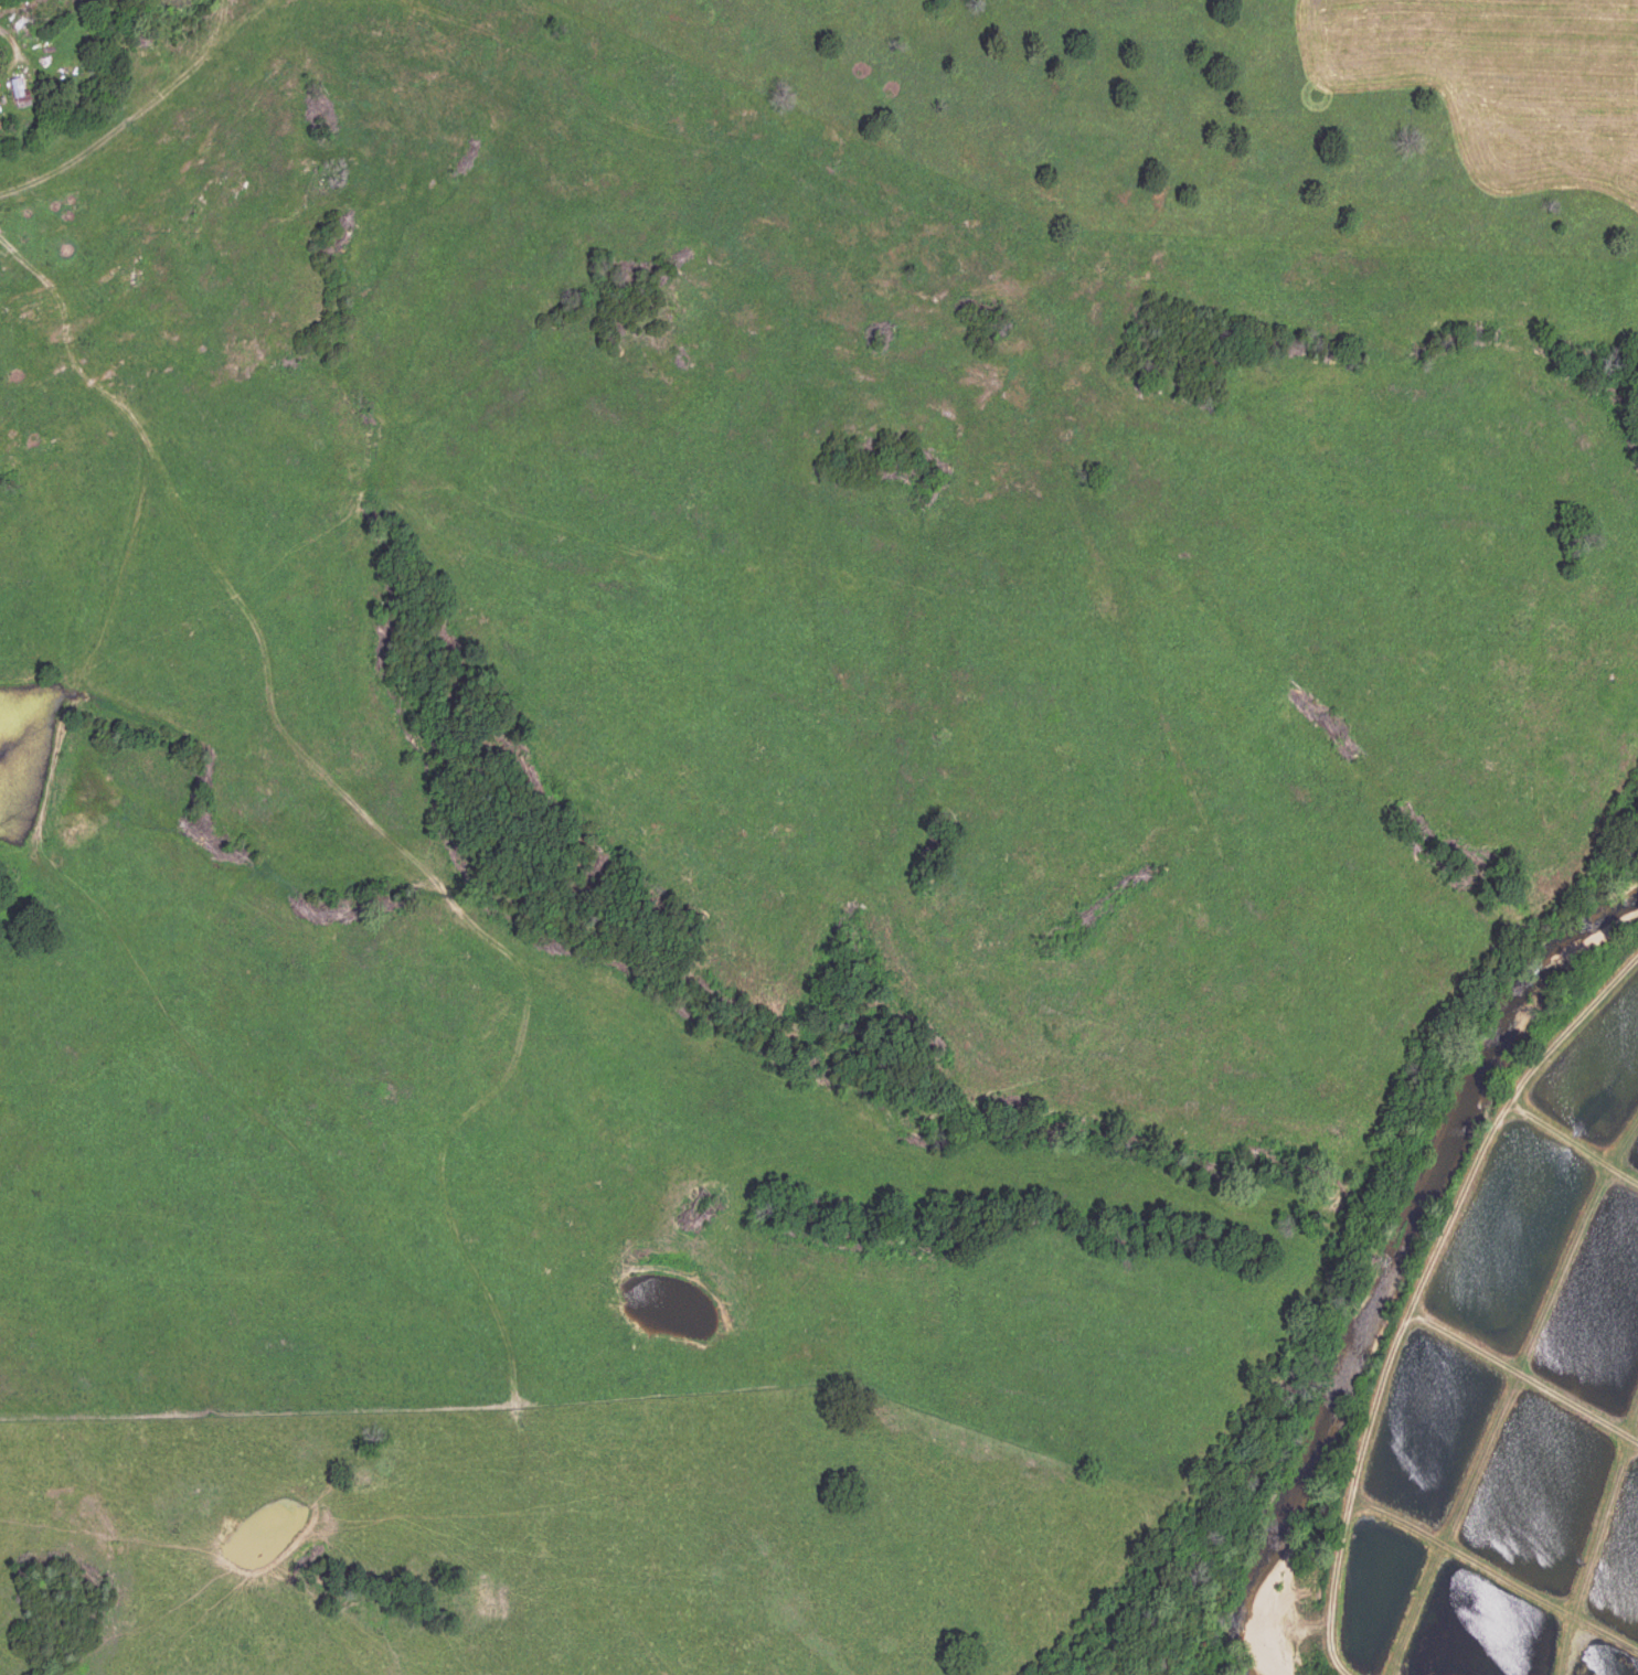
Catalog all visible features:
road: (17, 8)
building: (20, 89)
building: (0, 107)

